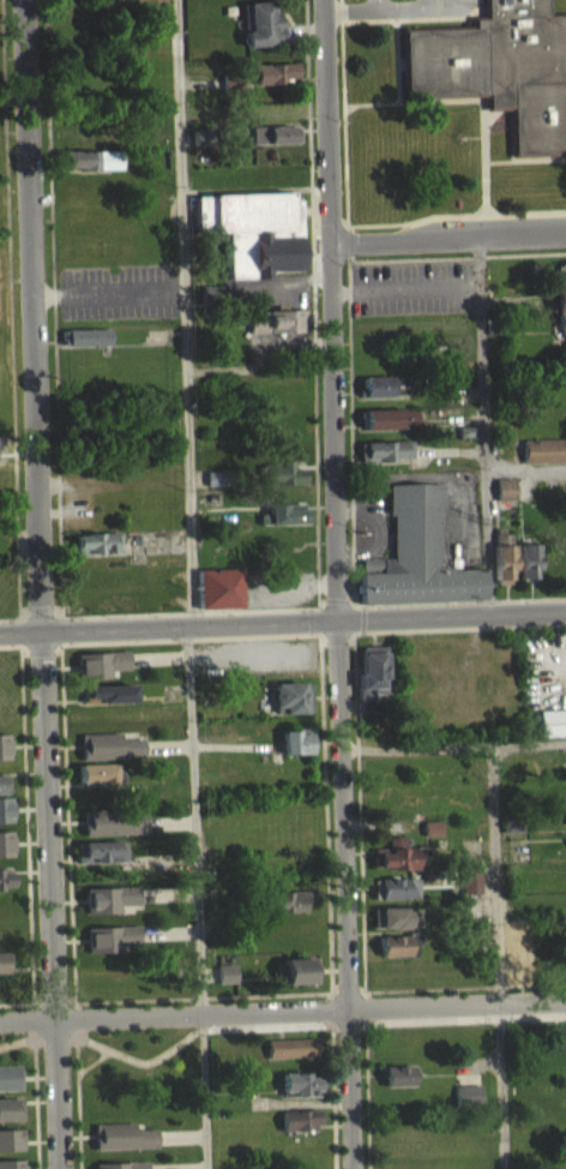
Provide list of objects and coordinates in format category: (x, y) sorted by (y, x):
road: (372, 4)
road: (398, 7)
road: (345, 10)
road: (414, 18)
building: (260, 34)
building: (495, 68)
building: (273, 83)
road: (395, 88)
road: (341, 110)
street lamp: (338, 120)
building: (275, 144)
building: (200, 146)
road: (306, 150)
building: (89, 169)
road: (436, 214)
road: (344, 222)
road: (447, 239)
building: (251, 241)
road: (456, 256)
building: (561, 284)
road: (182, 311)
building: (559, 317)
building: (276, 331)
building: (84, 347)
building: (383, 396)
road: (481, 425)
building: (387, 428)
road: (349, 449)
road: (313, 452)
building: (544, 460)
building: (384, 461)
building: (283, 484)
building: (213, 488)
building: (505, 499)
building: (282, 523)
building: (97, 553)
building: (415, 564)
building: (502, 568)
building: (526, 570)
road: (337, 583)
road: (40, 584)
building: (219, 584)
road: (254, 607)
road: (282, 618)
road: (312, 618)
road: (11, 630)
road: (10, 643)
road: (42, 651)
road: (158, 655)
building: (101, 661)
building: (101, 673)
building: (371, 675)
road: (64, 690)
building: (109, 691)
building: (291, 695)
building: (108, 703)
building: (553, 720)
building: (295, 739)
building: (5, 744)
building: (110, 744)
road: (168, 744)
road: (230, 744)
building: (110, 756)
building: (98, 771)
building: (4, 781)
building: (97, 784)
building: (2, 793)
building: (6, 808)
building: (113, 820)
road: (170, 820)
building: (432, 825)
building: (113, 833)
building: (430, 838)
building: (6, 841)
building: (100, 849)
building: (395, 852)
building: (470, 857)
building: (98, 862)
building: (393, 865)
building: (6, 875)
building: (470, 879)
building: (398, 886)
building: (5, 888)
building: (469, 891)
road: (168, 892)
building: (110, 895)
road: (198, 895)
building: (287, 898)
building: (395, 898)
road: (29, 906)
building: (109, 909)
road: (362, 910)
building: (284, 911)
building: (395, 915)
building: (519, 927)
building: (393, 928)
road: (169, 930)
building: (112, 935)
road: (329, 939)
building: (398, 943)
building: (109, 947)
building: (514, 954)
building: (229, 955)
building: (397, 955)
road: (498, 957)
building: (5, 959)
building: (300, 967)
building: (514, 967)
building: (227, 971)
building: (4, 972)
road: (209, 972)
building: (297, 981)
building: (225, 984)
road: (54, 996)
road: (16, 1001)
road: (369, 1005)
road: (326, 1006)
road: (283, 1009)
road: (82, 1019)
road: (275, 1025)
building: (291, 1045)
building: (290, 1057)
road: (95, 1060)
building: (398, 1073)
building: (10, 1074)
building: (299, 1081)
building: (398, 1085)
building: (8, 1087)
building: (468, 1092)
building: (297, 1095)
road: (333, 1096)
road: (368, 1096)
road: (301, 1101)
building: (466, 1103)
road: (78, 1104)
building: (10, 1107)
building: (300, 1116)
building: (10, 1119)
building: (299, 1129)
building: (122, 1133)
road: (181, 1134)
building: (11, 1137)
building: (122, 1146)
building: (10, 1150)
building: (11, 1163)
building: (121, 1164)
road: (176, 1167)

